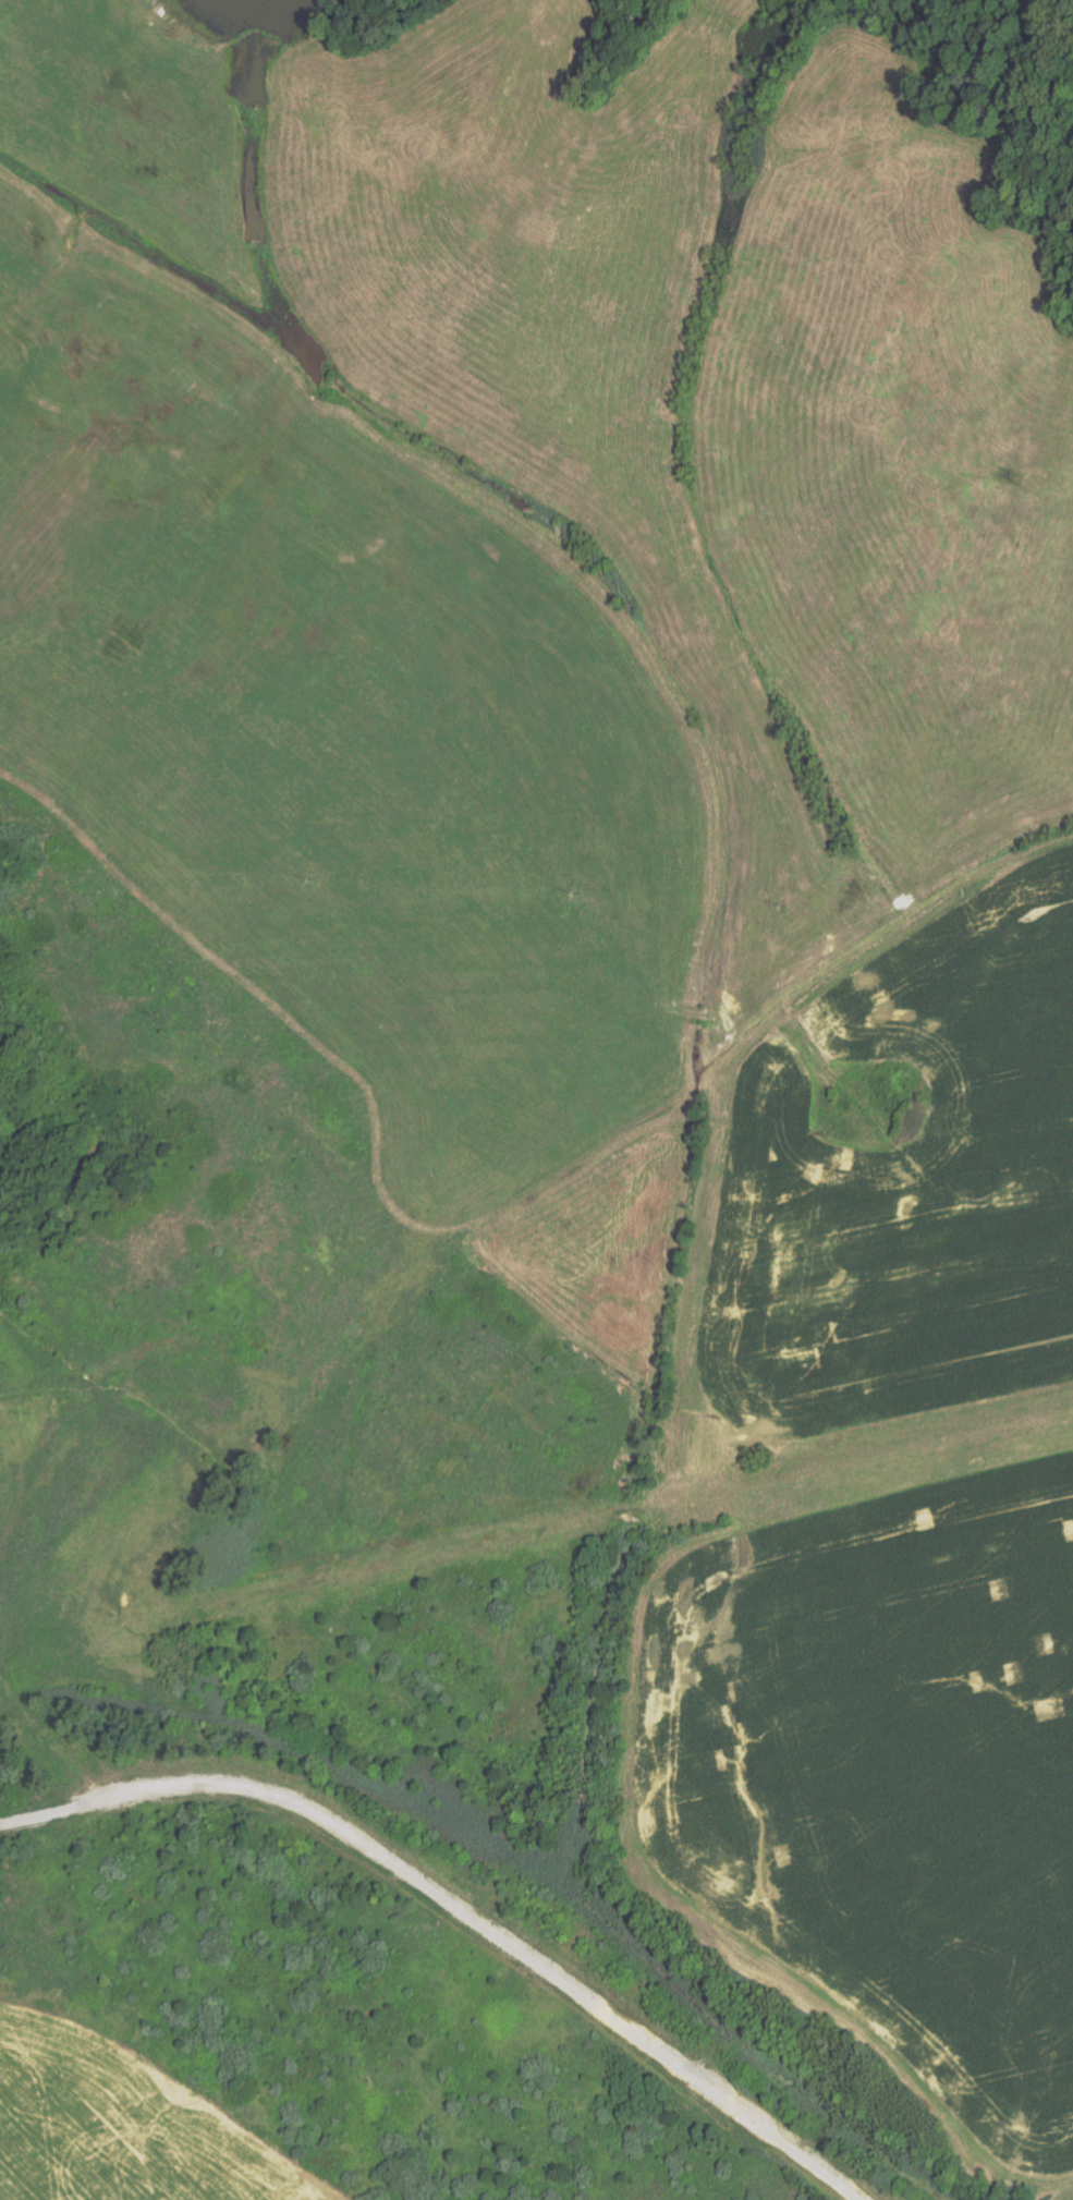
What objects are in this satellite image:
road: (450, 1915)

